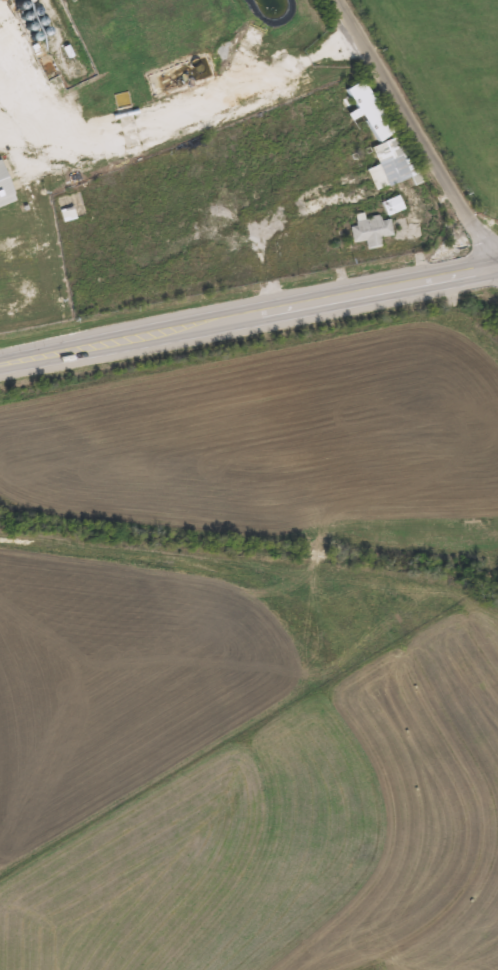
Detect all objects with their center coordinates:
building: (366, 110)
road: (188, 114)
road: (419, 131)
building: (390, 163)
building: (4, 192)
building: (391, 205)
building: (369, 231)
road: (249, 318)

